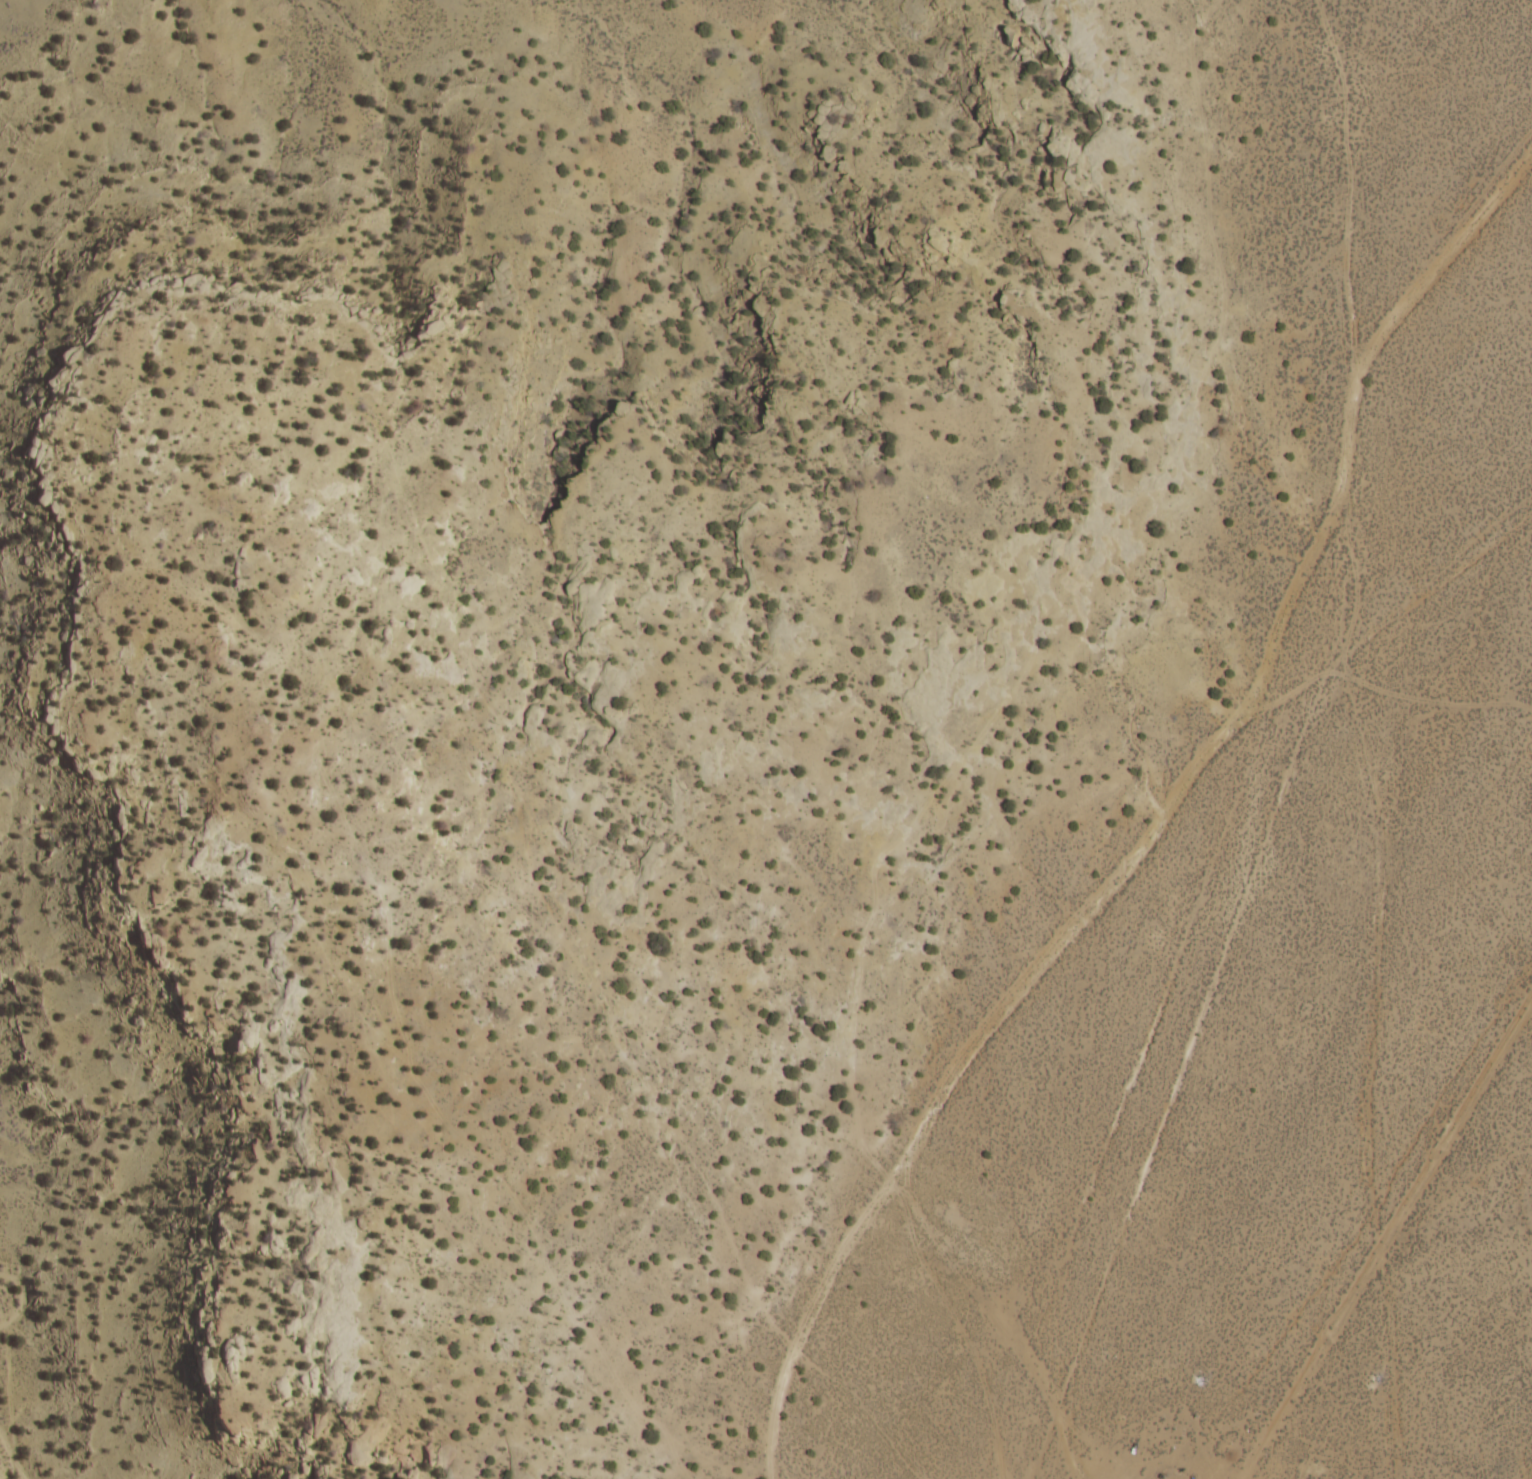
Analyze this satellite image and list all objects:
road: (1154, 763)
road: (1013, 1295)

